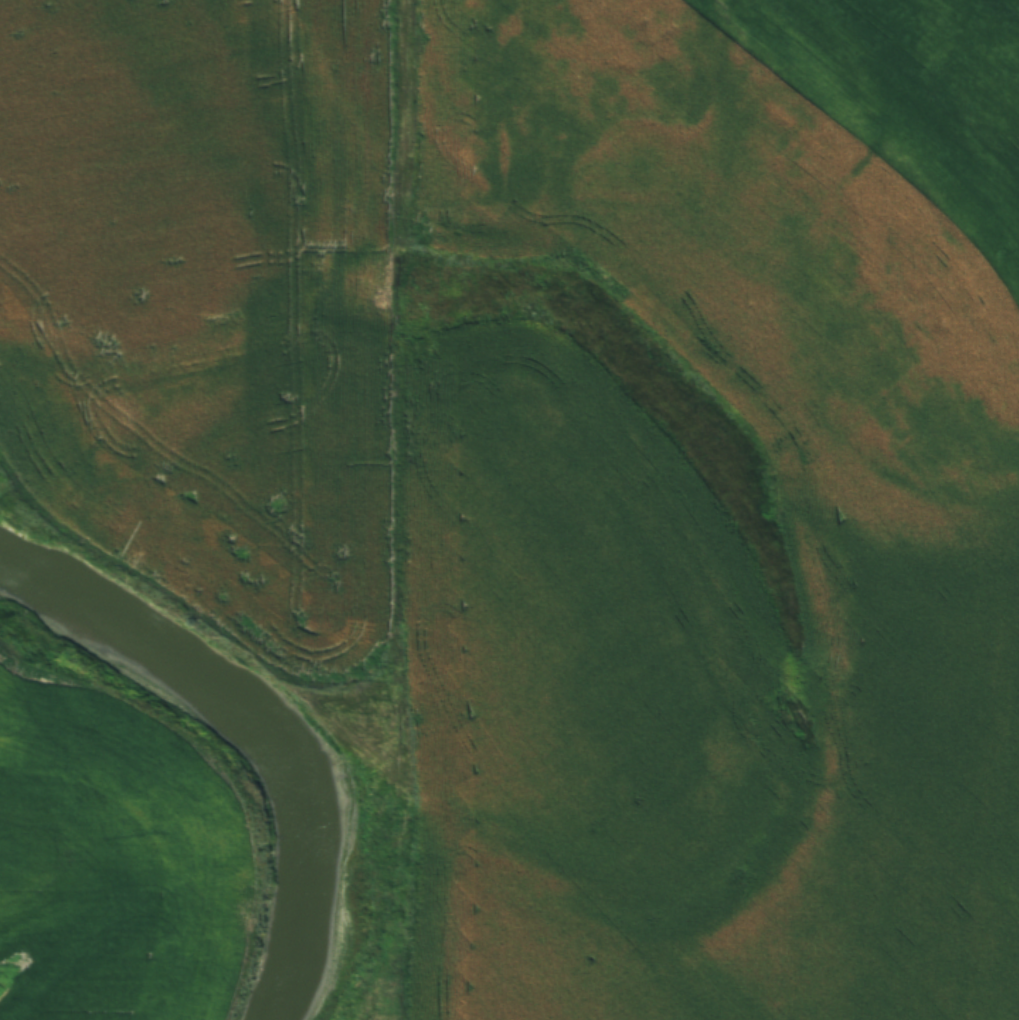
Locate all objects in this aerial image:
river: (257, 730)

